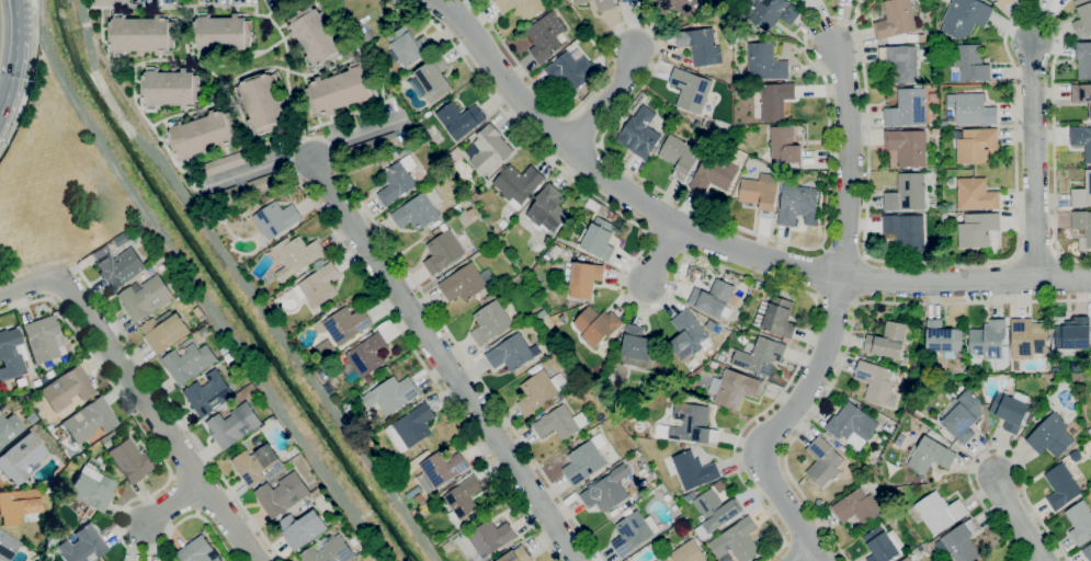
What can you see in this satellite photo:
building: (628, 0)
building: (581, 1)
building: (107, 2)
building: (809, 2)
building: (1005, 2)
building: (604, 4)
building: (679, 7)
building: (522, 8)
building: (770, 12)
building: (966, 15)
building: (1082, 16)
road: (19, 19)
road: (843, 20)
building: (895, 21)
building: (221, 33)
building: (141, 34)
building: (316, 36)
building: (921, 37)
building: (543, 39)
building: (408, 45)
building: (700, 45)
building: (1083, 59)
building: (901, 61)
building: (765, 62)
building: (969, 62)
building: (567, 71)
road: (15, 73)
road: (29, 78)
building: (434, 78)
building: (170, 88)
building: (340, 90)
building: (691, 90)
building: (1081, 94)
road: (606, 98)
building: (776, 100)
building: (262, 102)
road: (3, 106)
traffic signals: (7, 108)
building: (907, 108)
building: (974, 110)
building: (428, 114)
road: (3, 116)
building: (461, 118)
building: (639, 133)
building: (203, 134)
road: (312, 137)
building: (1082, 139)
building: (739, 141)
road: (570, 142)
building: (784, 145)
building: (976, 145)
building: (374, 146)
building: (908, 146)
building: (488, 149)
building: (405, 151)
building: (395, 152)
road: (308, 153)
building: (681, 154)
road: (846, 158)
road: (1035, 160)
building: (226, 162)
building: (385, 163)
building: (714, 174)
building: (397, 180)
building: (266, 182)
building: (518, 183)
building: (908, 192)
building: (230, 193)
building: (1082, 193)
building: (976, 194)
building: (759, 195)
building: (798, 205)
building: (458, 208)
building: (547, 209)
building: (419, 210)
building: (944, 215)
building: (613, 216)
building: (276, 219)
building: (503, 224)
building: (1082, 224)
building: (977, 229)
building: (906, 230)
building: (600, 238)
building: (443, 251)
building: (555, 251)
building: (100, 252)
building: (296, 256)
building: (120, 267)
building: (582, 277)
road: (879, 278)
building: (466, 283)
building: (319, 285)
road: (673, 286)
road: (29, 287)
building: (146, 297)
building: (713, 299)
road: (836, 299)
building: (541, 313)
building: (776, 317)
building: (562, 318)
building: (490, 321)
building: (346, 324)
building: (596, 325)
building: (164, 332)
road: (848, 333)
building: (1073, 334)
building: (689, 335)
building: (943, 337)
building: (1027, 337)
building: (42, 339)
building: (988, 340)
building: (888, 341)
building: (552, 343)
building: (639, 344)
building: (513, 353)
building: (10, 355)
building: (367, 355)
building: (760, 356)
road: (442, 357)
building: (720, 357)
building: (64, 359)
building: (190, 362)
building: (1054, 362)
building: (48, 375)
building: (875, 381)
building: (35, 382)
building: (329, 388)
building: (735, 388)
building: (66, 389)
building: (541, 391)
building: (208, 393)
building: (390, 394)
building: (1010, 410)
road: (177, 412)
building: (962, 415)
building: (30, 419)
road: (158, 419)
building: (88, 421)
building: (560, 422)
road: (781, 422)
building: (693, 424)
building: (234, 425)
building: (852, 425)
building: (48, 426)
building: (411, 427)
building: (889, 427)
building: (8, 430)
building: (1050, 436)
road: (996, 447)
building: (841, 448)
building: (931, 455)
building: (633, 456)
building: (20, 458)
building: (586, 460)
building: (129, 461)
building: (823, 462)
building: (257, 465)
road: (168, 467)
building: (441, 469)
building: (691, 469)
building: (458, 478)
building: (91, 485)
building: (1061, 486)
building: (606, 490)
building: (282, 494)
building: (690, 496)
building: (420, 497)
building: (463, 497)
building: (16, 505)
road: (174, 505)
building: (857, 507)
building: (716, 510)
building: (940, 512)
building: (87, 513)
road: (1021, 522)
building: (1080, 522)
building: (302, 528)
building: (630, 531)
building: (490, 537)
building: (737, 540)
building: (958, 542)
building: (883, 545)
building: (7, 546)
building: (81, 546)
building: (447, 546)
building: (197, 551)
building: (329, 551)
building: (689, 551)
building: (1087, 551)
building: (513, 554)
road: (807, 556)
building: (728, 558)
building: (907, 559)
building: (656, 560)

